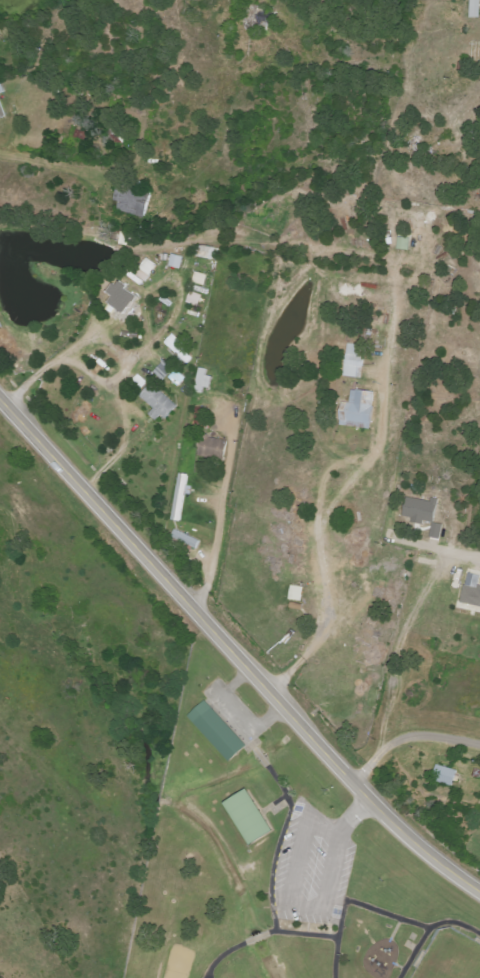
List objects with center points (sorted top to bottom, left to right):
building: (472, 9)
road: (32, 59)
building: (2, 103)
building: (136, 201)
building: (405, 243)
building: (208, 252)
building: (177, 261)
building: (150, 267)
building: (202, 279)
building: (127, 296)
building: (196, 299)
building: (180, 350)
building: (356, 361)
building: (179, 378)
building: (204, 380)
building: (156, 399)
building: (361, 409)
building: (202, 417)
building: (215, 449)
road: (65, 471)
building: (181, 497)
building: (424, 510)
building: (438, 530)
building: (187, 539)
road: (436, 549)
building: (473, 590)
parking lot: (229, 712)
road: (233, 715)
road: (297, 725)
building: (219, 731)
road: (407, 737)
building: (447, 776)
road: (271, 807)
building: (254, 817)
road: (352, 818)
road: (321, 830)
road: (283, 833)
parking lot: (310, 868)
road: (297, 905)
road: (383, 913)
road: (453, 923)
road: (393, 930)
road: (263, 936)
road: (335, 937)
road: (411, 953)
park: (448, 957)
road: (397, 968)
road: (206, 977)

